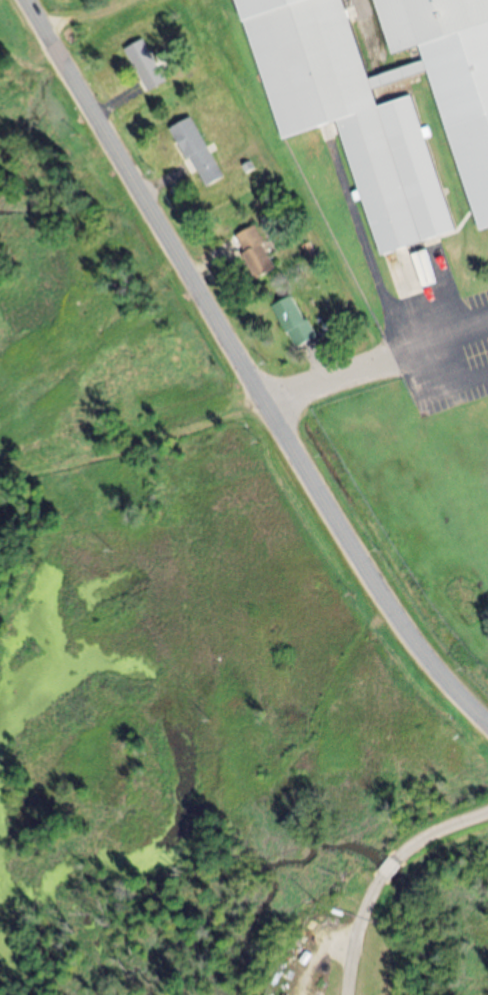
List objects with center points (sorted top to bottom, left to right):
building: (147, 65)
building: (384, 131)
building: (200, 153)
building: (256, 253)
building: (295, 322)
road: (246, 369)
road: (381, 875)

